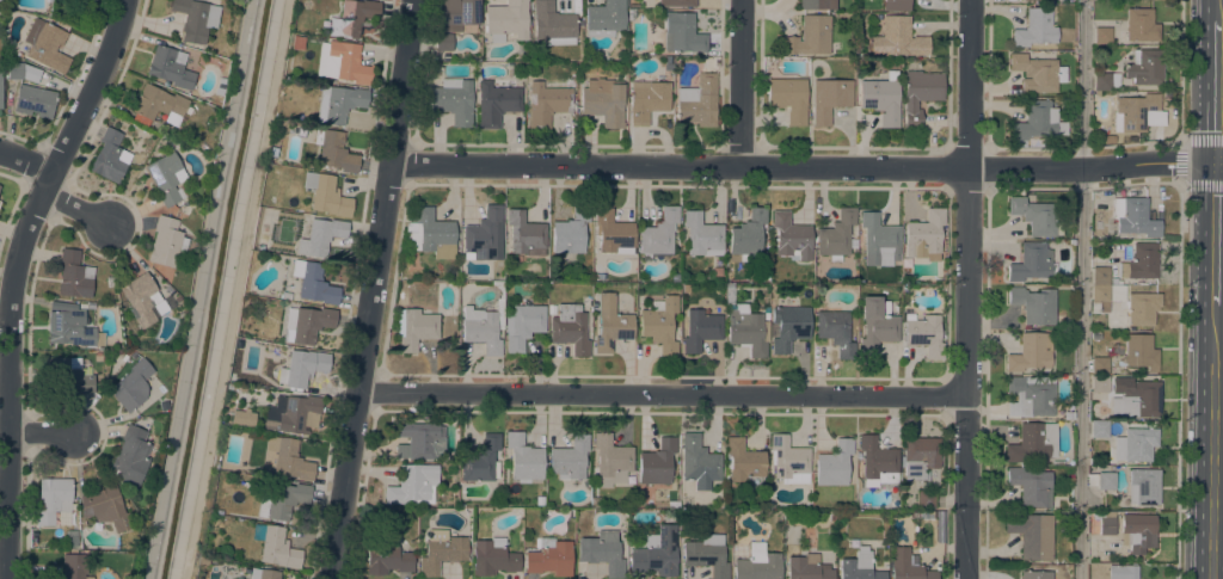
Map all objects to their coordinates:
building: (86, 1)
building: (635, 2)
building: (676, 2)
building: (817, 4)
building: (896, 5)
building: (457, 13)
building: (631, 14)
road: (1213, 14)
building: (352, 17)
building: (195, 18)
building: (604, 18)
building: (506, 20)
building: (552, 25)
building: (1141, 25)
building: (1035, 27)
building: (682, 33)
building: (809, 36)
building: (1102, 36)
building: (898, 38)
building: (296, 42)
building: (444, 42)
building: (45, 44)
building: (342, 62)
building: (170, 67)
building: (1144, 67)
building: (23, 72)
building: (1037, 73)
building: (1106, 80)
road: (405, 84)
road: (744, 84)
building: (0, 86)
building: (219, 86)
building: (920, 94)
road: (1213, 96)
building: (647, 98)
building: (788, 98)
building: (880, 98)
building: (829, 99)
building: (453, 100)
building: (497, 100)
building: (35, 101)
building: (603, 101)
building: (697, 101)
building: (338, 103)
building: (547, 104)
building: (159, 105)
building: (1133, 112)
building: (1038, 121)
building: (334, 150)
building: (110, 156)
road: (25, 161)
road: (809, 168)
building: (167, 178)
building: (325, 195)
road: (76, 208)
building: (1034, 216)
building: (1133, 216)
road: (1212, 228)
building: (571, 230)
building: (659, 232)
building: (614, 233)
building: (431, 234)
building: (484, 234)
building: (526, 234)
building: (702, 234)
building: (746, 234)
building: (836, 235)
building: (924, 235)
building: (320, 236)
building: (791, 236)
building: (879, 236)
building: (165, 241)
building: (1032, 263)
building: (1130, 265)
building: (907, 266)
building: (73, 273)
building: (764, 276)
building: (675, 277)
road: (13, 278)
building: (1116, 281)
building: (314, 282)
road: (236, 289)
road: (969, 289)
road: (1080, 289)
building: (170, 290)
building: (285, 295)
building: (139, 298)
building: (1100, 300)
building: (1034, 304)
building: (1141, 307)
building: (609, 322)
building: (306, 324)
building: (877, 324)
building: (69, 325)
building: (523, 325)
building: (660, 325)
building: (788, 326)
building: (414, 327)
building: (483, 327)
building: (569, 327)
building: (700, 329)
building: (746, 329)
building: (835, 331)
building: (924, 335)
building: (1031, 351)
building: (1141, 351)
building: (1100, 365)
building: (302, 368)
building: (68, 374)
road: (364, 374)
building: (1100, 383)
building: (130, 386)
building: (235, 387)
road: (664, 395)
building: (1030, 398)
building: (1138, 400)
building: (293, 413)
building: (1065, 413)
building: (241, 417)
building: (1099, 429)
road: (42, 433)
road: (1209, 437)
building: (418, 439)
building: (1032, 442)
building: (1136, 443)
building: (130, 455)
building: (920, 456)
building: (288, 457)
building: (523, 457)
building: (570, 457)
building: (611, 460)
building: (742, 460)
building: (483, 461)
building: (789, 461)
building: (877, 461)
building: (657, 462)
building: (699, 462)
building: (1057, 462)
building: (834, 463)
building: (1106, 480)
building: (412, 483)
building: (1031, 486)
building: (1143, 486)
building: (926, 498)
building: (54, 500)
building: (281, 500)
building: (105, 507)
building: (926, 513)
building: (912, 515)
building: (831, 517)
building: (939, 524)
building: (1107, 525)
building: (257, 531)
building: (1138, 531)
building: (1031, 534)
building: (72, 537)
building: (278, 548)
building: (441, 550)
building: (603, 552)
building: (656, 552)
building: (707, 554)
building: (492, 556)
building: (549, 558)
building: (387, 560)
building: (757, 563)
building: (74, 566)
building: (859, 566)
building: (907, 566)
building: (807, 567)
building: (1123, 572)
building: (263, 573)
building: (1035, 574)

